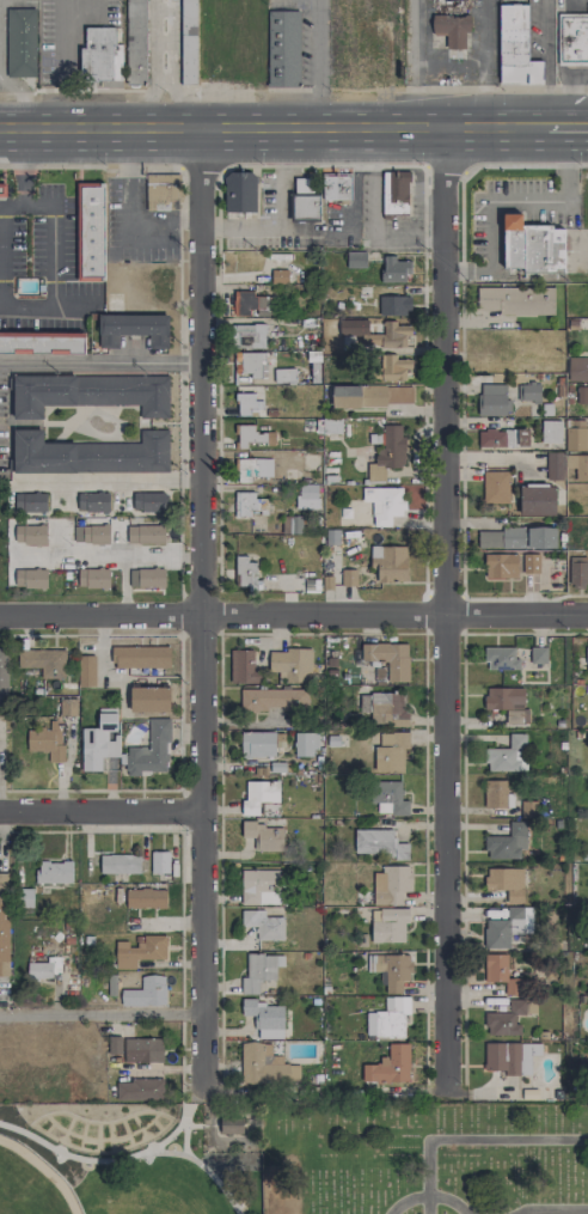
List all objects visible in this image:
building: (452, 22)
road: (547, 29)
building: (572, 38)
building: (20, 42)
building: (135, 42)
building: (188, 42)
building: (283, 48)
building: (515, 48)
building: (100, 56)
road: (409, 62)
road: (446, 62)
road: (483, 62)
road: (318, 63)
road: (496, 87)
road: (97, 90)
road: (566, 90)
road: (546, 92)
road: (24, 96)
road: (566, 126)
road: (272, 127)
road: (22, 167)
road: (180, 169)
building: (336, 187)
building: (2, 191)
building: (163, 193)
building: (240, 193)
building: (396, 193)
building: (304, 200)
road: (507, 201)
road: (12, 208)
road: (355, 213)
road: (376, 215)
road: (281, 218)
building: (90, 231)
road: (123, 233)
road: (362, 236)
building: (532, 246)
building: (356, 260)
building: (278, 276)
building: (515, 300)
building: (252, 304)
building: (393, 305)
road: (57, 309)
building: (133, 329)
building: (249, 334)
building: (386, 334)
building: (42, 343)
building: (532, 355)
road: (100, 361)
road: (179, 364)
building: (252, 364)
building: (397, 367)
building: (577, 370)
building: (284, 374)
building: (529, 392)
building: (90, 394)
building: (582, 395)
building: (369, 396)
building: (492, 399)
building: (249, 404)
building: (331, 426)
building: (551, 431)
building: (576, 434)
building: (253, 435)
building: (503, 437)
building: (387, 452)
building: (91, 455)
building: (555, 465)
building: (578, 466)
building: (247, 469)
road: (124, 481)
building: (496, 487)
building: (306, 495)
building: (537, 500)
building: (30, 501)
building: (148, 501)
building: (92, 502)
building: (249, 504)
building: (384, 504)
building: (30, 533)
building: (91, 533)
building: (146, 533)
building: (516, 537)
road: (111, 555)
building: (388, 563)
building: (531, 563)
building: (500, 565)
building: (577, 571)
building: (244, 572)
building: (31, 578)
building: (93, 578)
building: (147, 578)
road: (204, 608)
road: (449, 610)
road: (396, 611)
road: (102, 616)
road: (474, 633)
building: (538, 654)
building: (140, 657)
building: (388, 658)
building: (502, 658)
building: (586, 658)
building: (43, 661)
building: (289, 665)
building: (243, 666)
building: (86, 670)
building: (2, 677)
building: (149, 698)
building: (272, 698)
building: (508, 703)
building: (68, 707)
building: (385, 708)
building: (47, 739)
building: (99, 740)
building: (257, 744)
building: (305, 744)
building: (151, 751)
building: (390, 751)
building: (509, 755)
building: (495, 793)
building: (258, 795)
building: (390, 799)
building: (528, 809)
road: (105, 813)
building: (263, 836)
building: (379, 843)
building: (507, 843)
building: (159, 861)
building: (120, 864)
building: (53, 872)
building: (506, 883)
building: (391, 884)
building: (261, 886)
building: (146, 898)
building: (4, 925)
building: (263, 925)
building: (388, 925)
building: (507, 927)
building: (139, 951)
building: (44, 968)
building: (393, 970)
building: (259, 971)
building: (501, 972)
building: (146, 992)
road: (103, 1018)
building: (265, 1018)
building: (387, 1018)
building: (504, 1019)
building: (136, 1049)
building: (510, 1056)
building: (264, 1064)
building: (390, 1066)
road: (189, 1088)
building: (139, 1090)
building: (231, 1124)
road: (174, 1130)
road: (185, 1135)
road: (458, 1139)
road: (129, 1154)
park: (424, 1157)
park: (129, 1158)
road: (440, 1196)

